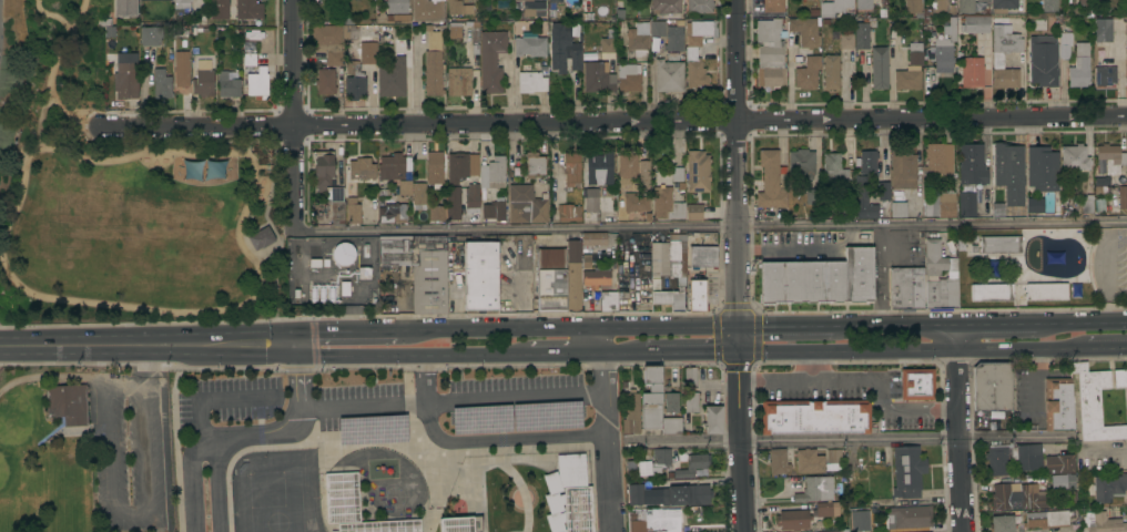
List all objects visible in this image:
building: (155, 0)
building: (374, 0)
building: (470, 0)
building: (983, 0)
building: (555, 1)
building: (1085, 2)
building: (863, 3)
building: (699, 6)
building: (772, 6)
building: (965, 6)
building: (1006, 6)
building: (1049, 6)
building: (397, 7)
building: (664, 7)
building: (125, 8)
building: (458, 8)
building: (834, 8)
building: (913, 8)
building: (936, 8)
building: (181, 9)
building: (219, 9)
building: (248, 9)
building: (531, 9)
building: (428, 10)
road: (53, 13)
building: (398, 18)
building: (974, 25)
building: (657, 29)
building: (455, 30)
building: (1103, 30)
building: (804, 31)
building: (879, 32)
building: (862, 34)
building: (150, 37)
building: (673, 39)
building: (637, 41)
building: (846, 41)
building: (327, 42)
building: (945, 44)
building: (1064, 44)
building: (529, 47)
building: (563, 49)
building: (696, 51)
building: (368, 53)
building: (770, 53)
building: (149, 55)
building: (997, 57)
building: (248, 59)
building: (1043, 60)
building: (491, 61)
building: (433, 64)
building: (1079, 66)
building: (879, 68)
building: (181, 69)
building: (911, 69)
road: (53, 70)
building: (600, 70)
building: (1103, 71)
building: (831, 72)
building: (972, 72)
building: (808, 73)
building: (203, 76)
building: (668, 76)
building: (628, 78)
building: (390, 79)
building: (125, 80)
building: (325, 81)
building: (354, 81)
building: (458, 81)
building: (531, 82)
building: (257, 83)
building: (161, 84)
building: (227, 85)
road: (295, 116)
road: (711, 121)
road: (200, 127)
building: (1074, 157)
building: (1110, 157)
building: (938, 158)
building: (867, 162)
road: (739, 163)
building: (802, 163)
building: (972, 164)
building: (535, 165)
building: (461, 166)
building: (903, 166)
building: (392, 167)
building: (833, 167)
building: (599, 168)
building: (698, 168)
building: (1042, 168)
building: (362, 170)
building: (435, 170)
building: (627, 170)
building: (571, 171)
building: (1009, 172)
building: (493, 173)
building: (643, 176)
building: (771, 181)
building: (327, 184)
building: (405, 190)
building: (883, 191)
park: (118, 193)
building: (419, 196)
building: (813, 196)
building: (669, 197)
building: (1123, 197)
building: (863, 199)
building: (471, 202)
building: (636, 203)
building: (945, 204)
building: (966, 204)
building: (526, 205)
building: (1033, 205)
building: (1087, 205)
building: (590, 206)
building: (448, 208)
building: (494, 209)
building: (898, 209)
building: (353, 212)
building: (393, 213)
building: (568, 213)
building: (693, 213)
road: (711, 228)
building: (260, 237)
building: (592, 238)
building: (1001, 245)
building: (507, 252)
building: (702, 256)
building: (668, 257)
building: (587, 262)
building: (419, 268)
building: (932, 273)
building: (573, 274)
building: (480, 276)
building: (597, 278)
building: (550, 279)
building: (819, 280)
building: (906, 288)
building: (1046, 291)
building: (992, 293)
building: (697, 296)
building: (669, 299)
building: (608, 301)
road: (243, 303)
road: (1083, 323)
road: (996, 324)
road: (895, 325)
traffic signals: (737, 326)
road: (785, 326)
road: (567, 328)
road: (345, 330)
road: (149, 345)
traffic signals: (297, 345)
road: (1107, 347)
road: (912, 349)
road: (621, 350)
road: (690, 350)
traffic signals: (737, 350)
road: (563, 351)
road: (410, 356)
building: (690, 378)
building: (1120, 379)
road: (828, 380)
road: (774, 381)
building: (916, 383)
road: (140, 385)
building: (992, 386)
road: (516, 397)
building: (651, 398)
parking lot: (238, 399)
building: (671, 402)
building: (691, 402)
building: (68, 403)
building: (1094, 403)
road: (364, 405)
building: (1058, 405)
parking lot: (361, 407)
road: (906, 408)
road: (193, 412)
building: (631, 415)
building: (814, 417)
building: (712, 419)
building: (671, 426)
road: (287, 428)
road: (956, 428)
road: (606, 429)
road: (738, 429)
road: (835, 438)
road: (479, 440)
road: (1110, 449)
park: (85, 457)
building: (833, 457)
building: (1013, 458)
building: (778, 461)
building: (809, 461)
building: (654, 462)
building: (1060, 464)
building: (692, 465)
building: (907, 472)
road: (221, 482)
building: (1063, 482)
building: (1106, 487)
building: (815, 490)
building: (636, 494)
building: (686, 495)
building: (342, 498)
building: (1021, 498)
building: (578, 509)
building: (828, 509)
building: (908, 516)
building: (1047, 519)
building: (654, 520)
building: (792, 520)
building: (860, 520)
building: (1101, 522)
building: (1005, 523)
building: (456, 524)
building: (380, 526)
building: (1066, 530)
building: (834, 531)

